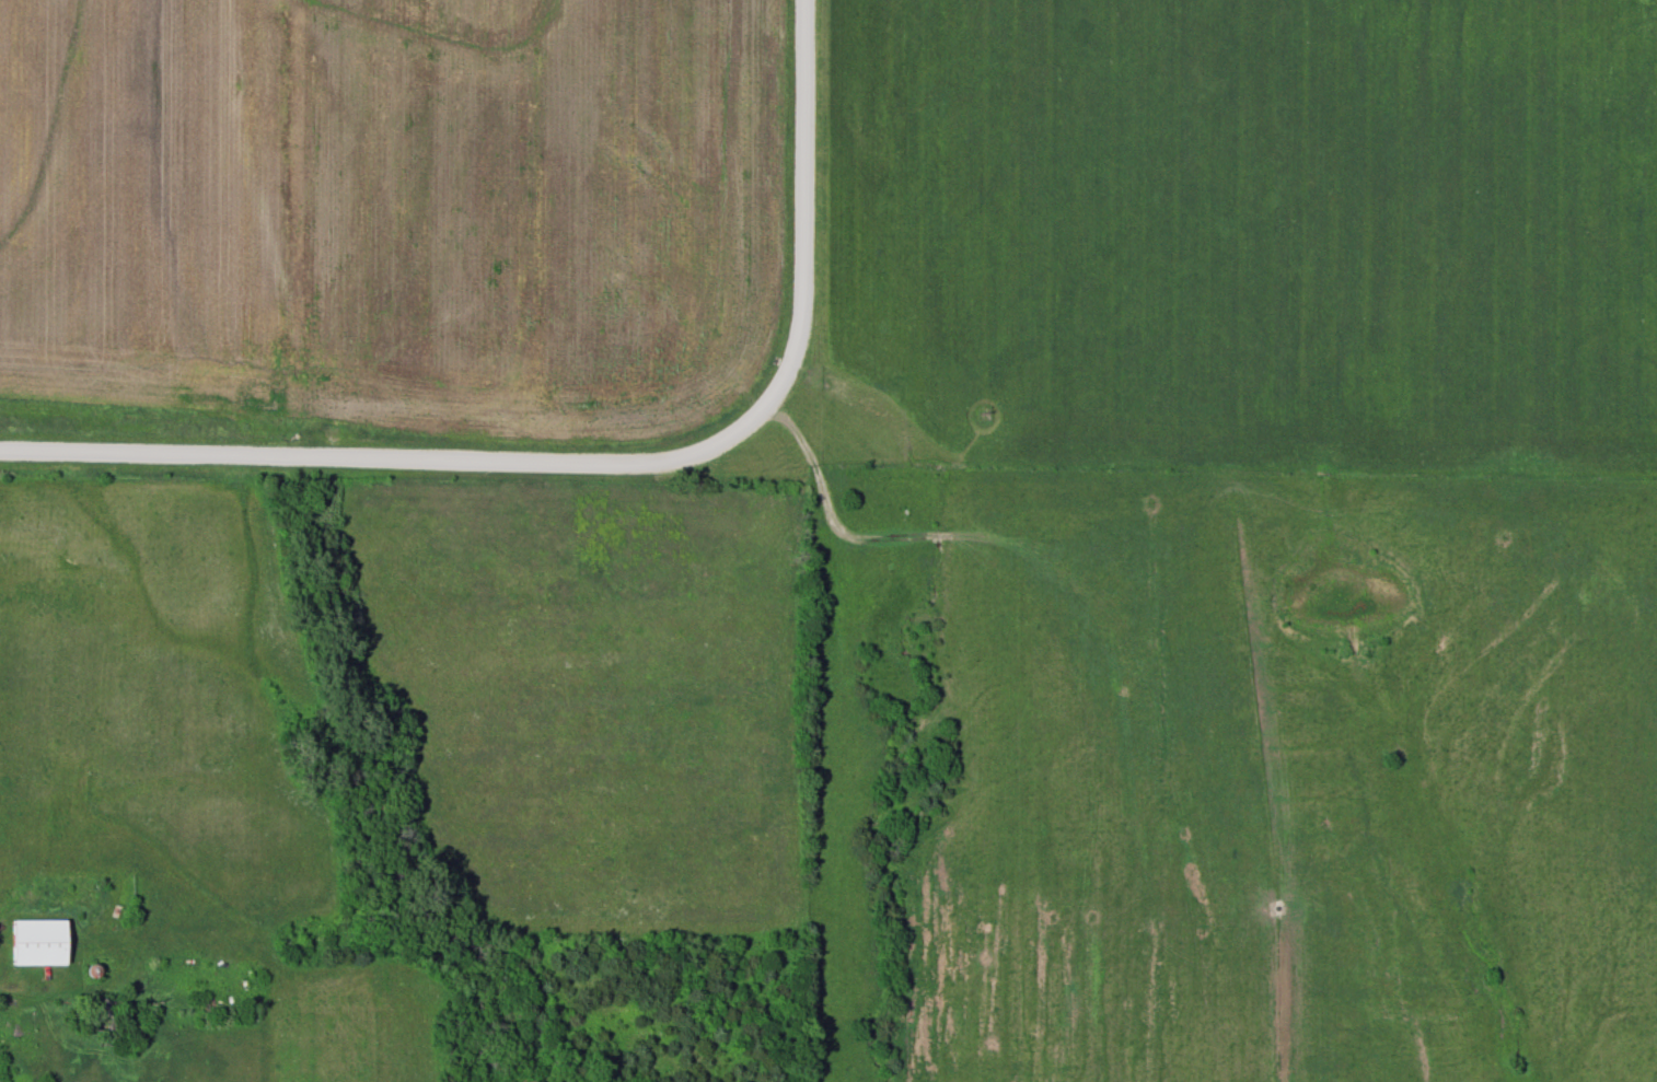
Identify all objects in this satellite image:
road: (801, 186)
crop: (395, 212)
crop: (1241, 235)
road: (412, 457)
building: (40, 943)
building: (96, 1015)

